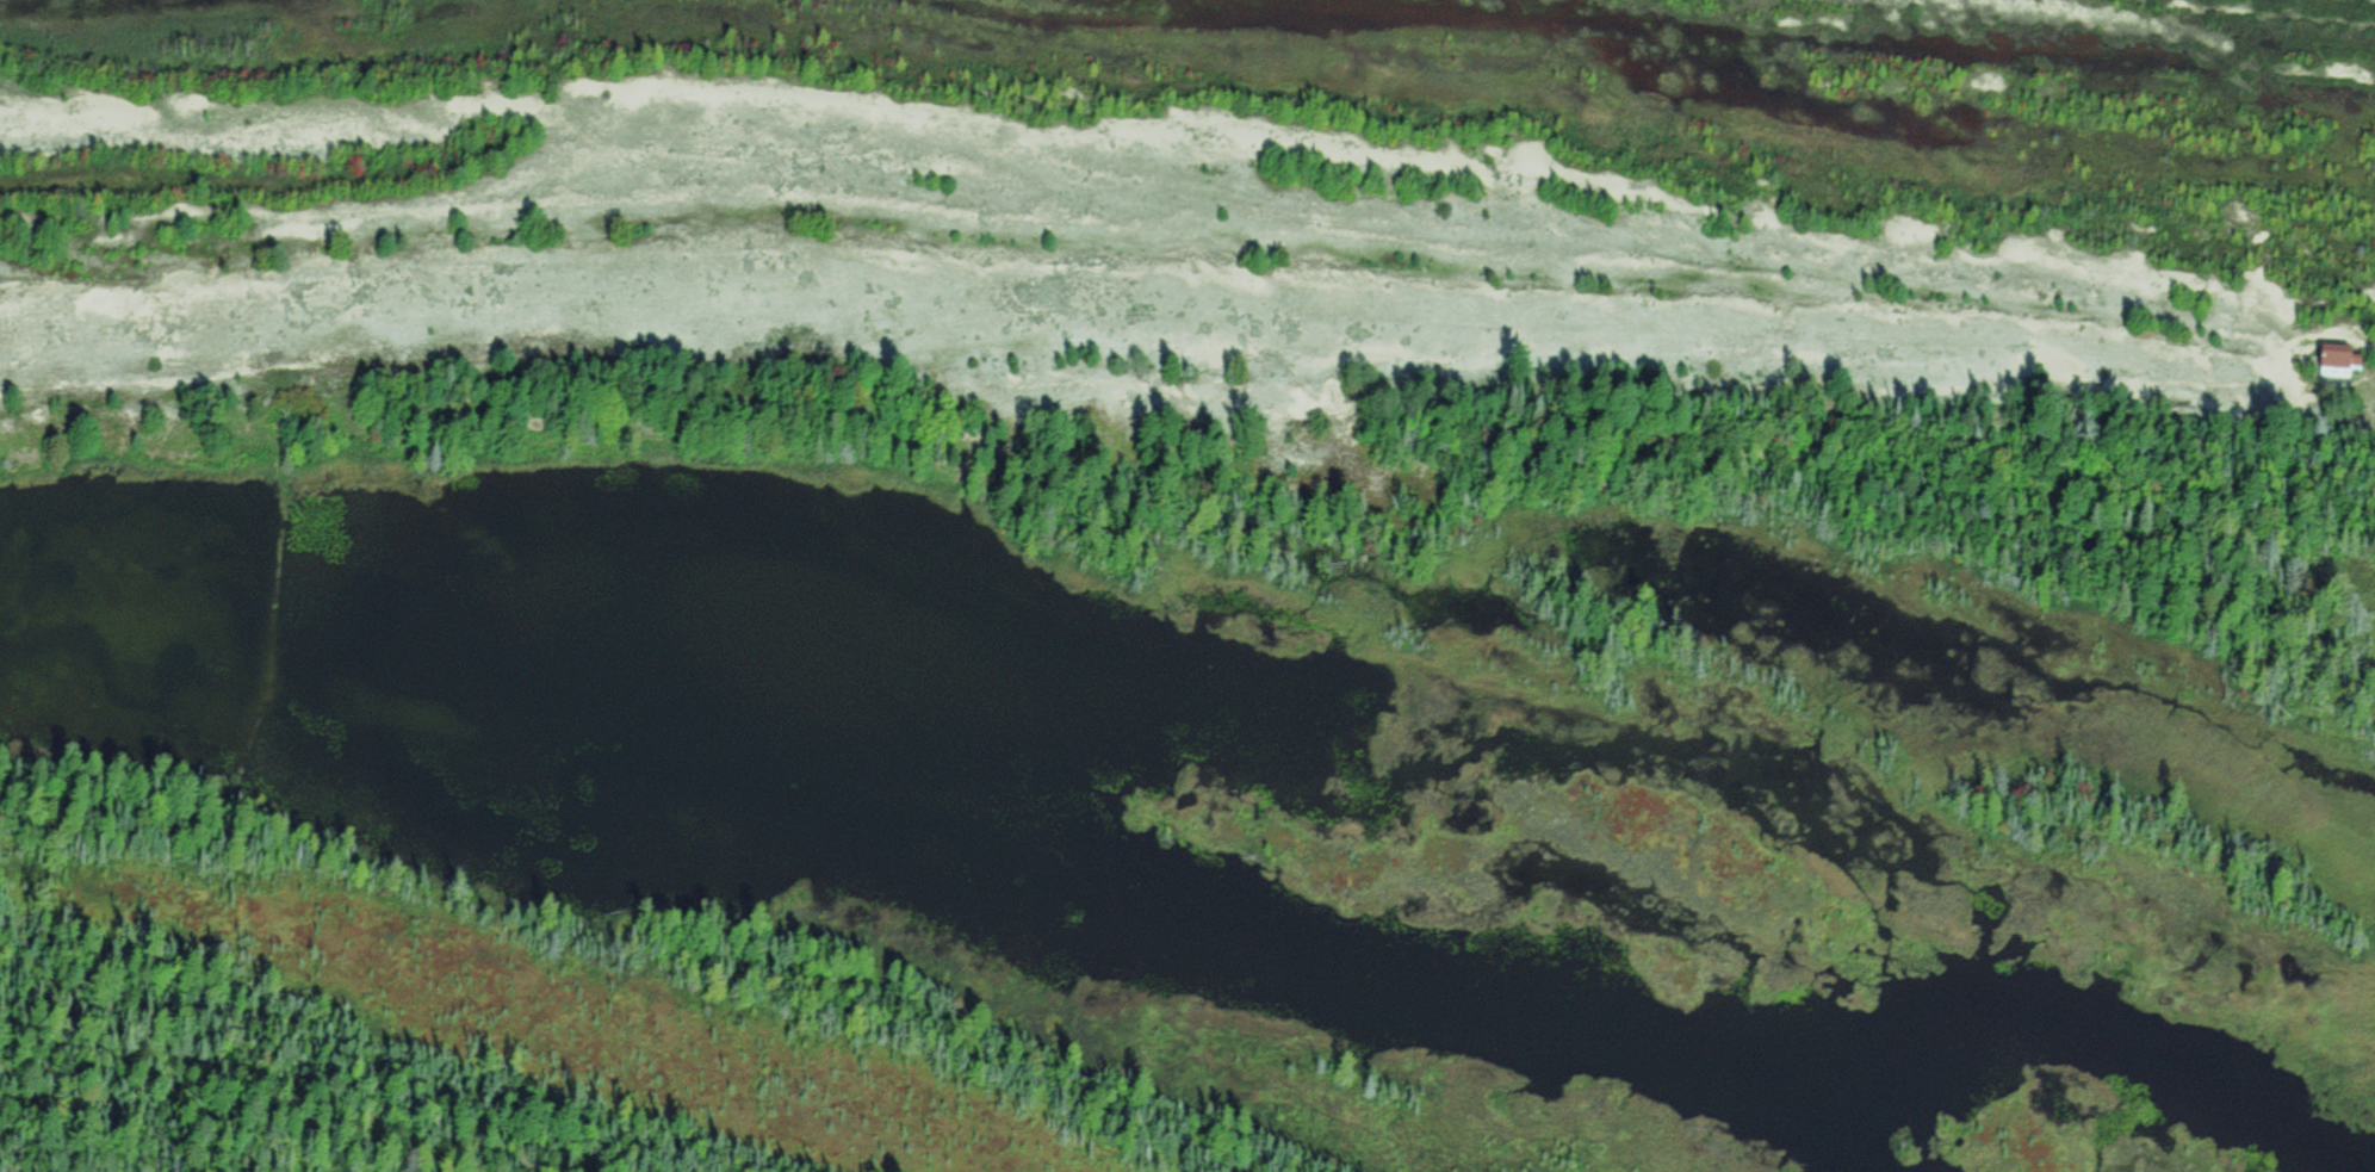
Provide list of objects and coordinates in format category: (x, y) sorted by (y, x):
building: (2334, 360)

